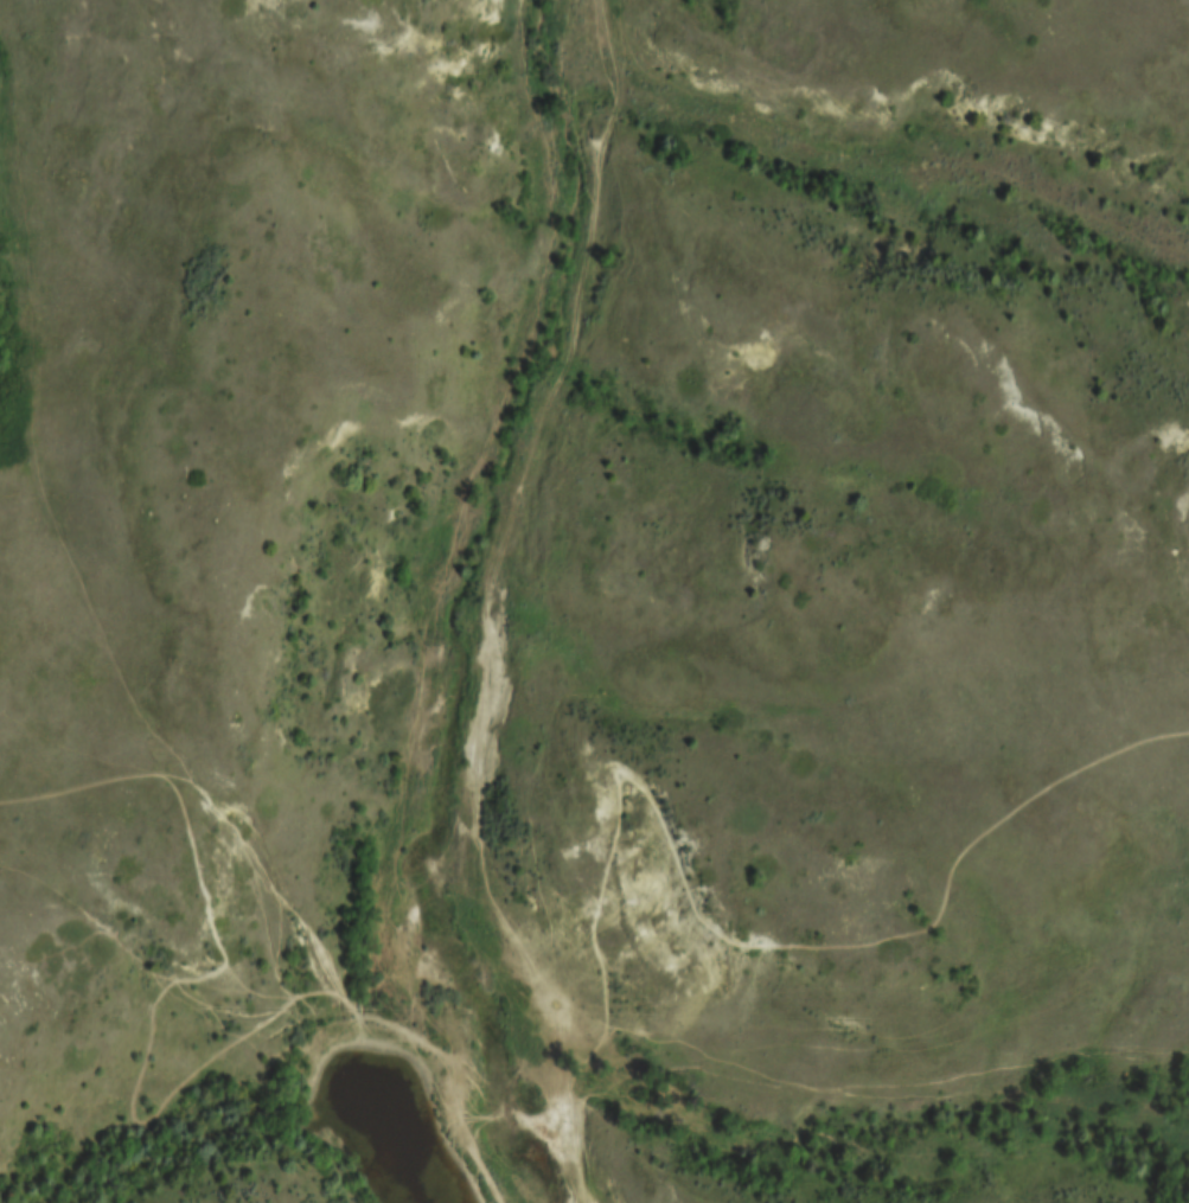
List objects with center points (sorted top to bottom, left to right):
road: (498, 601)
road: (549, 1108)

